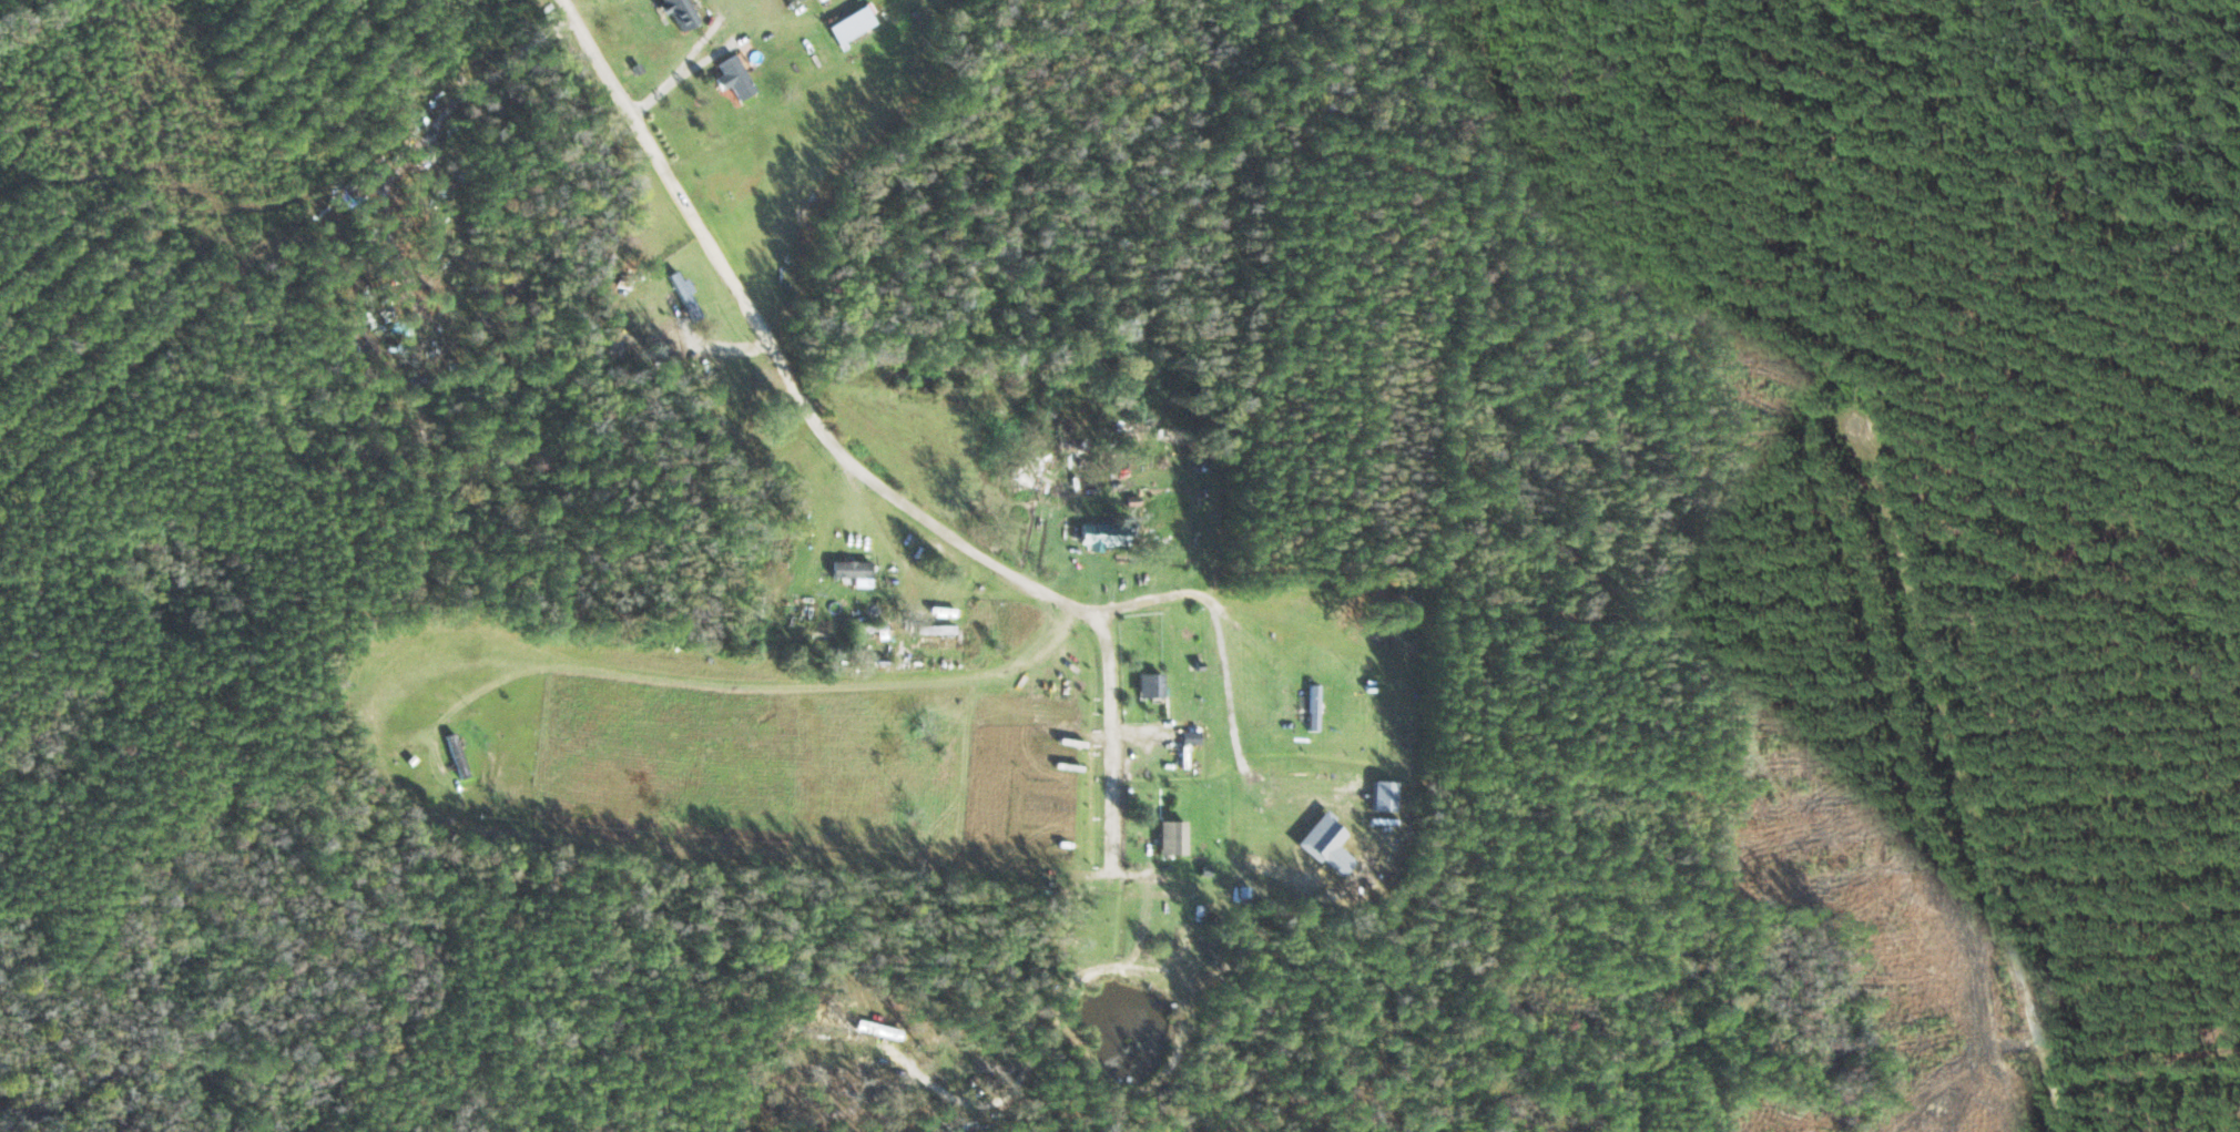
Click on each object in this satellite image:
building: (681, 12)
building: (852, 24)
building: (734, 78)
building: (685, 295)
building: (1093, 537)
road: (909, 568)
building: (936, 630)
building: (1154, 685)
building: (1173, 695)
building: (1315, 707)
building: (458, 756)

